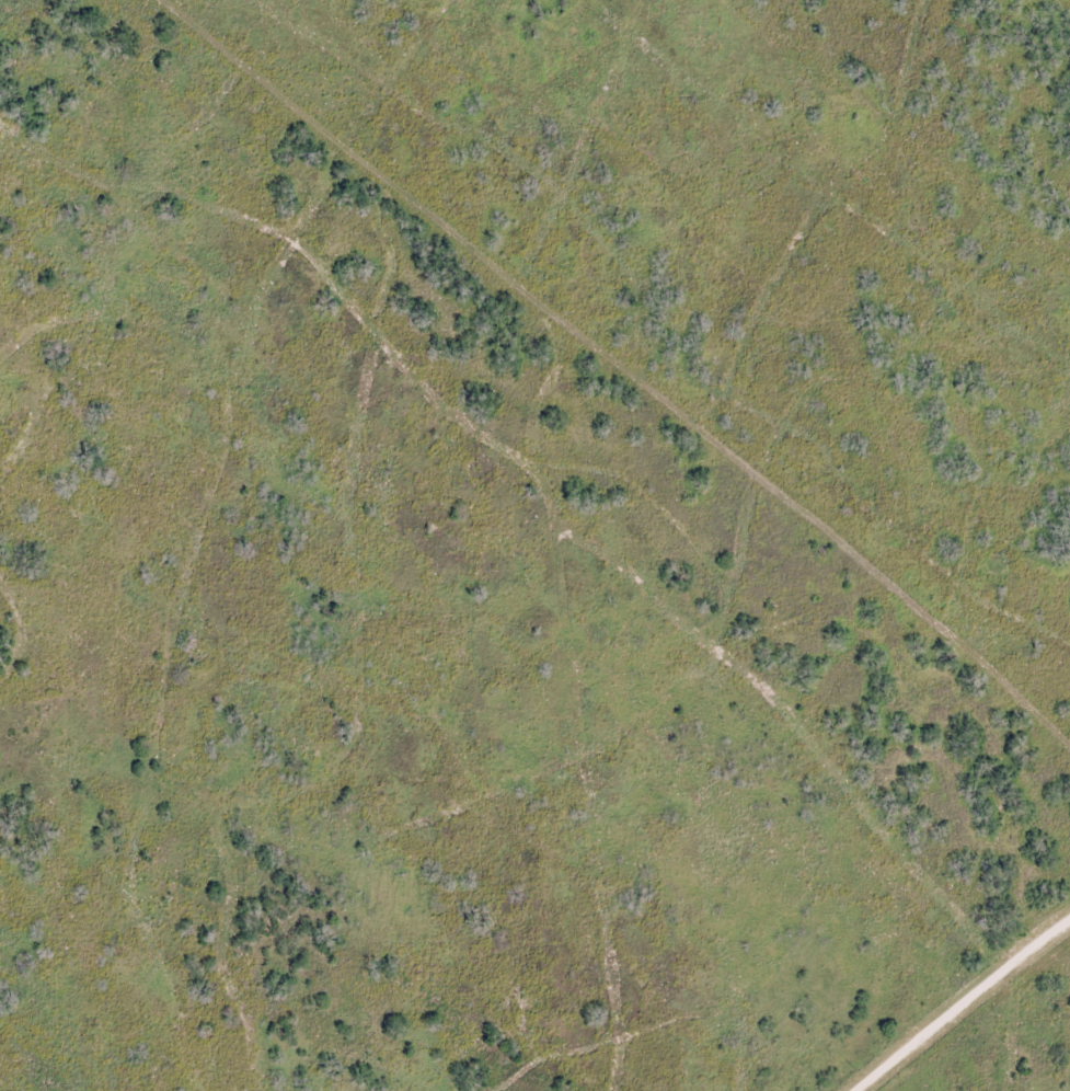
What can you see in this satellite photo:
road: (963, 1004)

